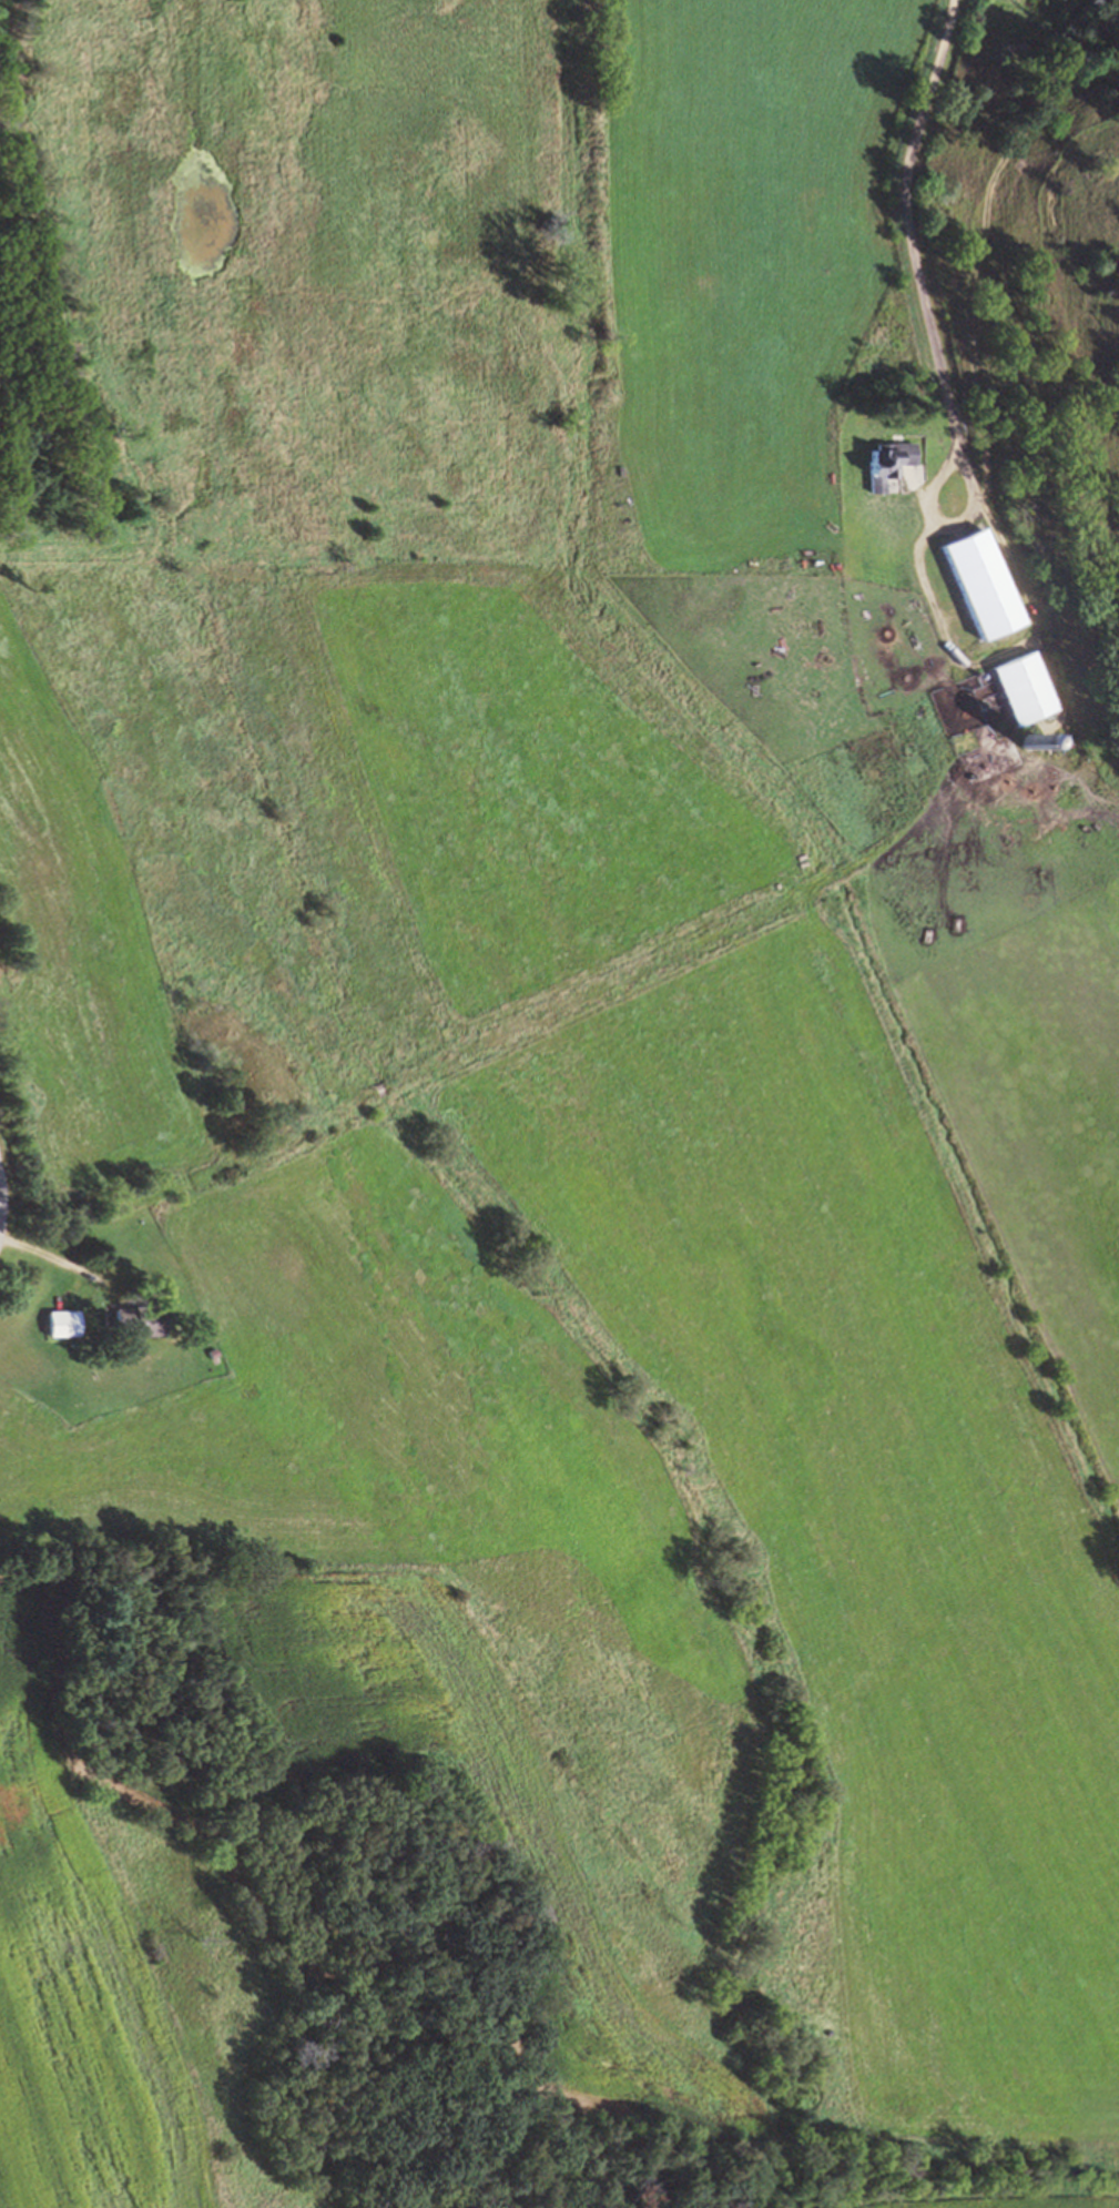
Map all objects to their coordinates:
road: (907, 235)
building: (887, 465)
building: (978, 585)
building: (1026, 688)
road: (54, 1257)
building: (131, 1318)
building: (58, 1320)

